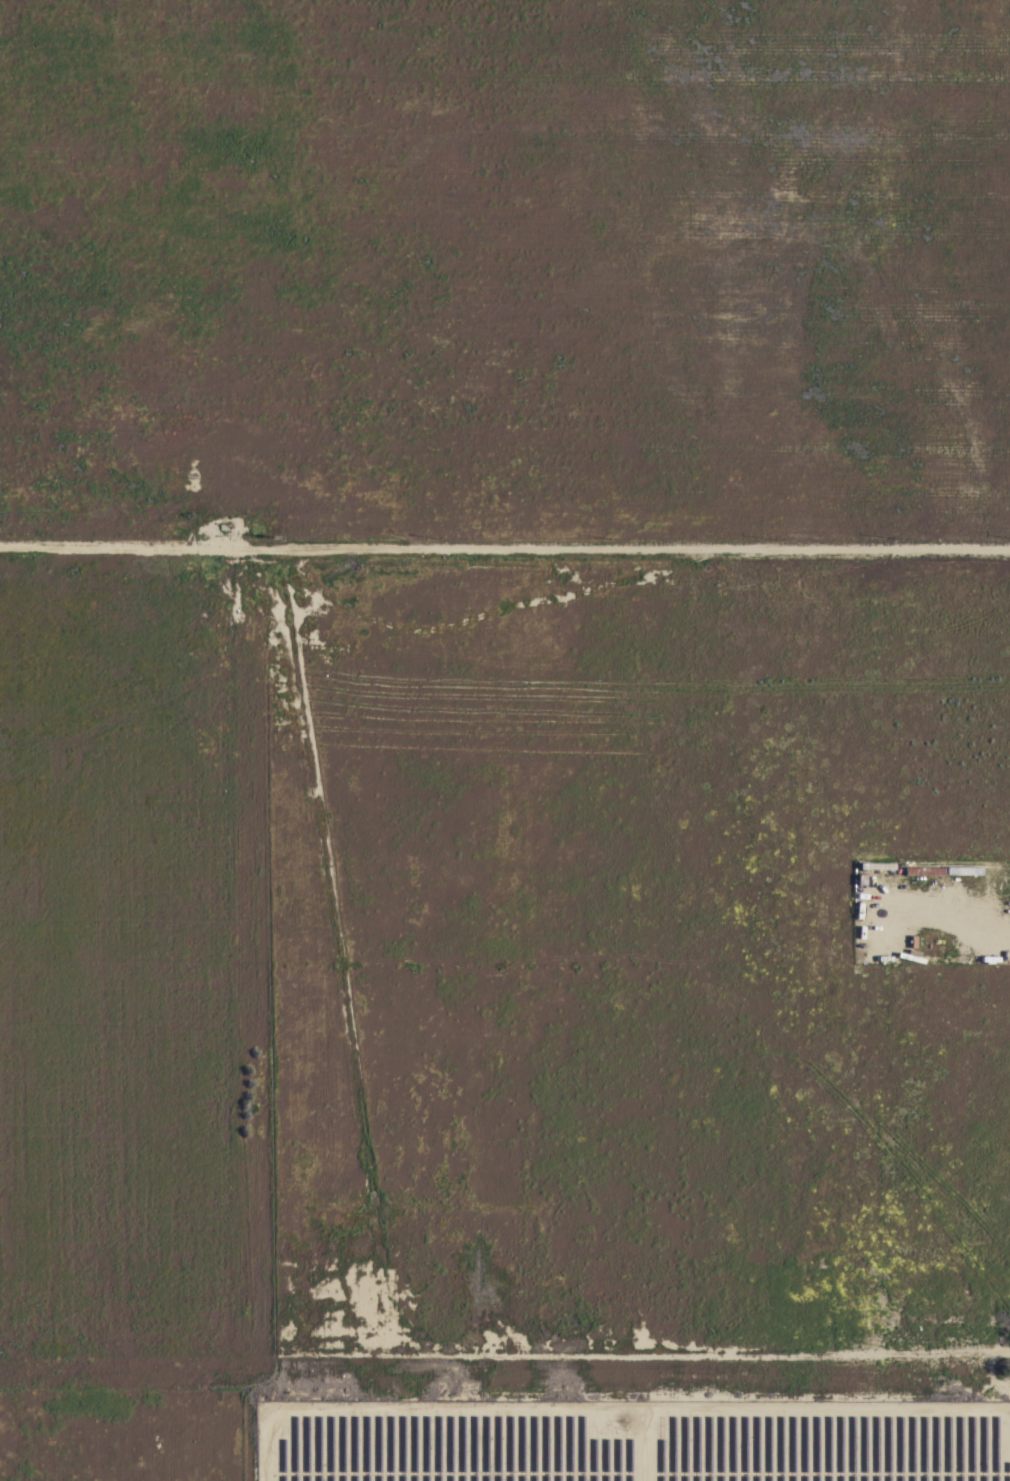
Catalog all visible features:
crop: (503, 271)
building: (216, 537)
building: (876, 865)
crop: (503, 1430)
solar farm: (631, 1440)

